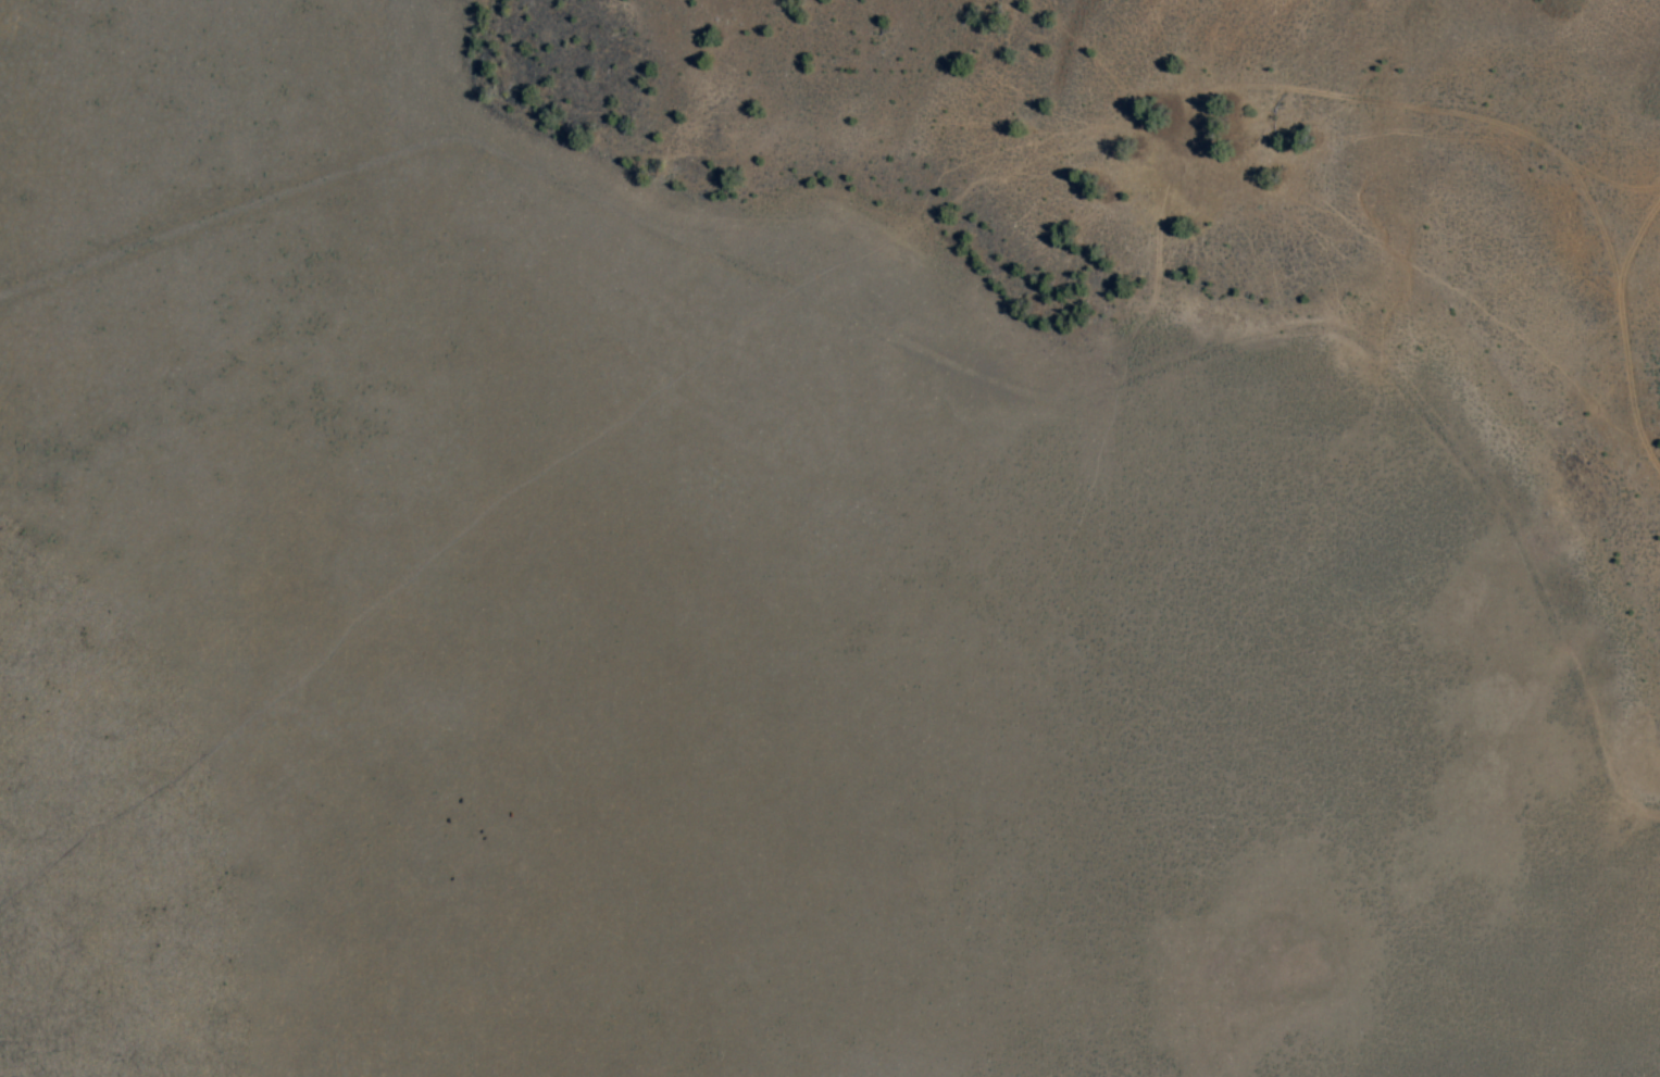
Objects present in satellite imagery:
road: (1625, 336)

